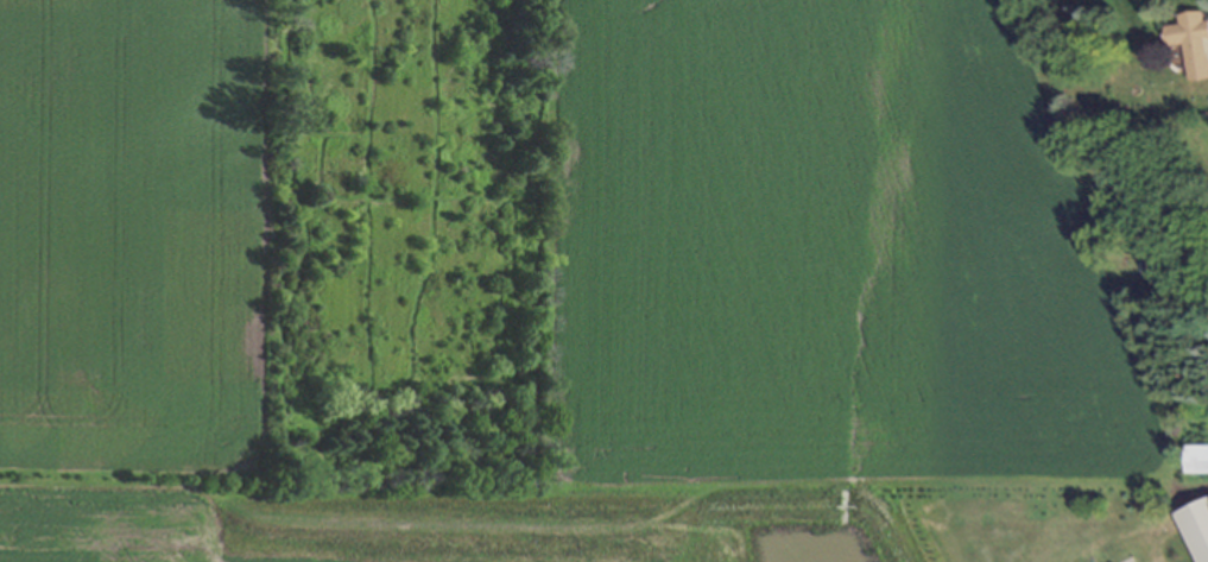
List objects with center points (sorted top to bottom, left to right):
building: (1191, 43)
crop: (581, 288)
building: (1197, 459)
building: (1197, 528)

